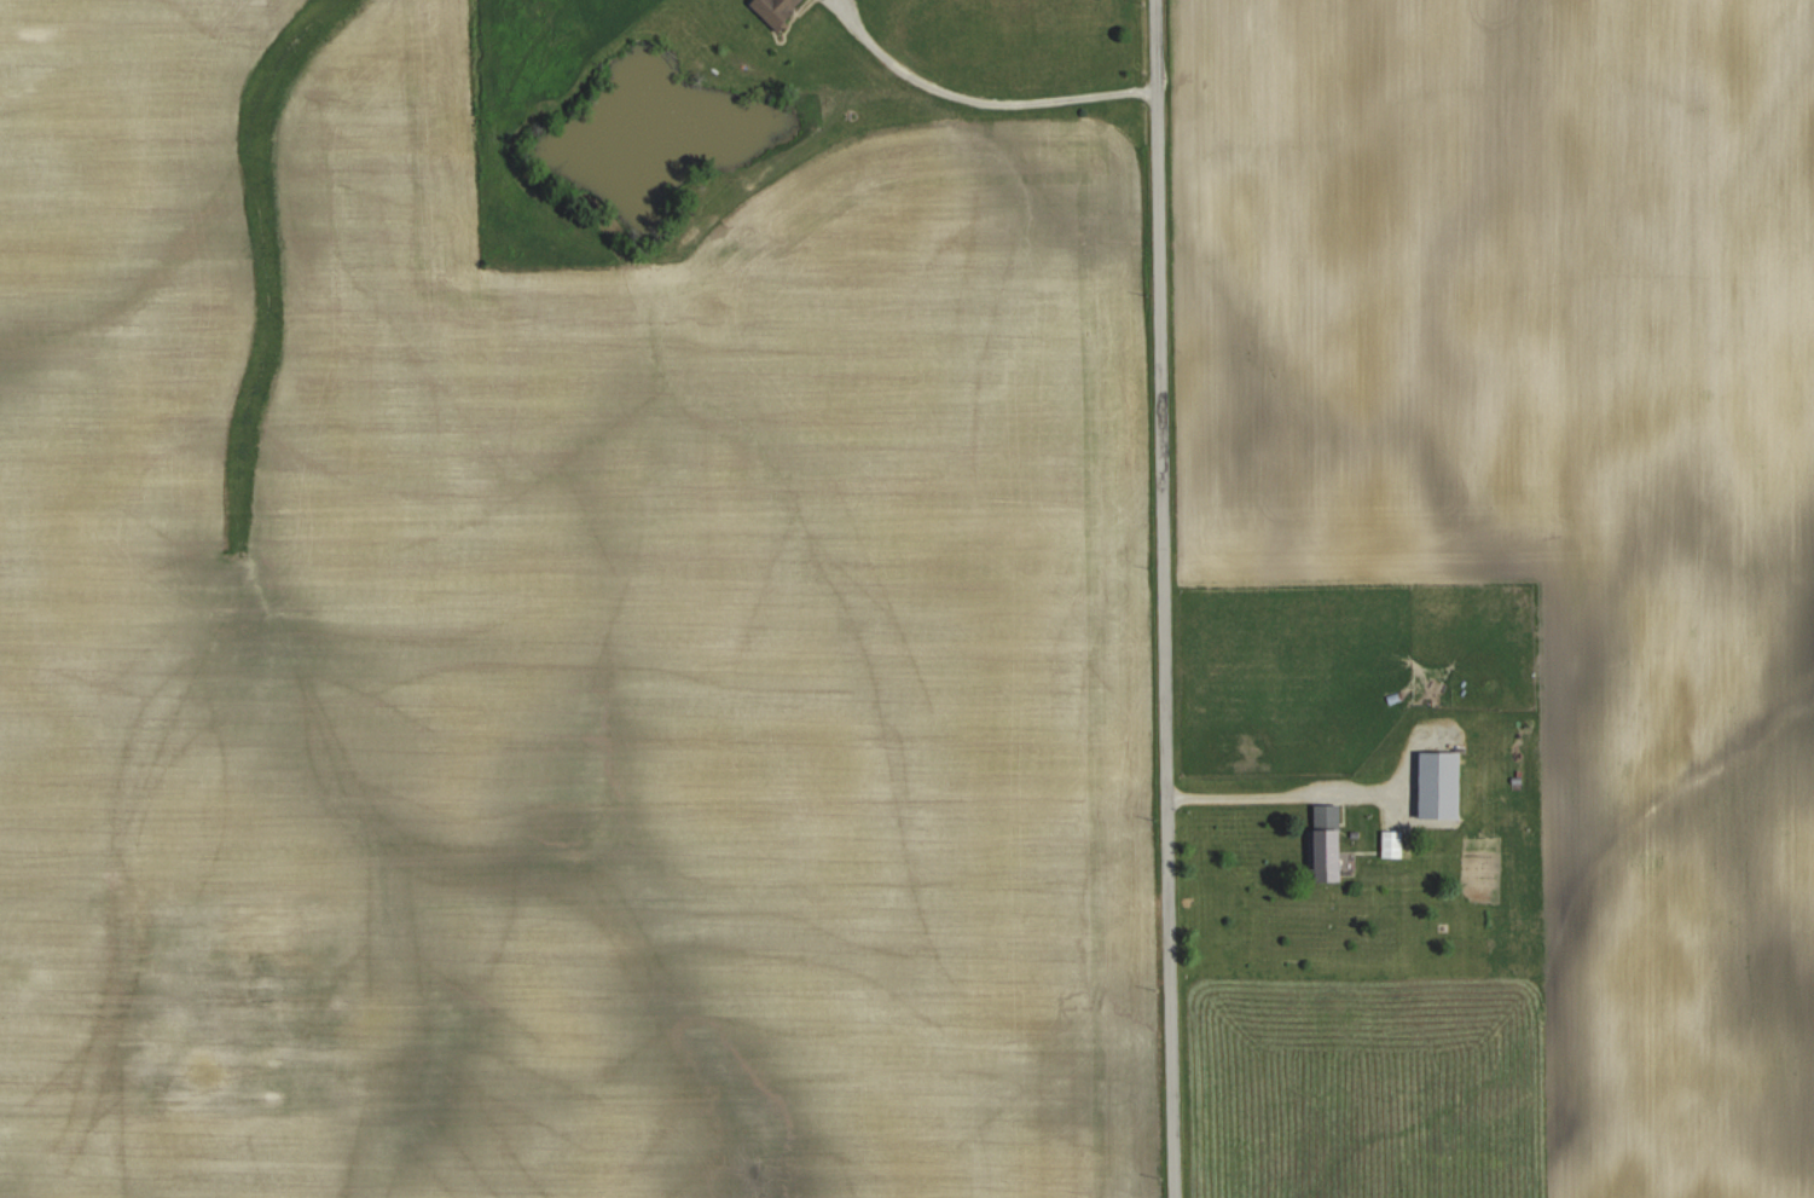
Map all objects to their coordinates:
building: (773, 8)
road: (978, 93)
road: (1165, 598)
building: (1438, 783)
road: (1281, 787)
building: (1396, 841)
building: (1326, 852)

